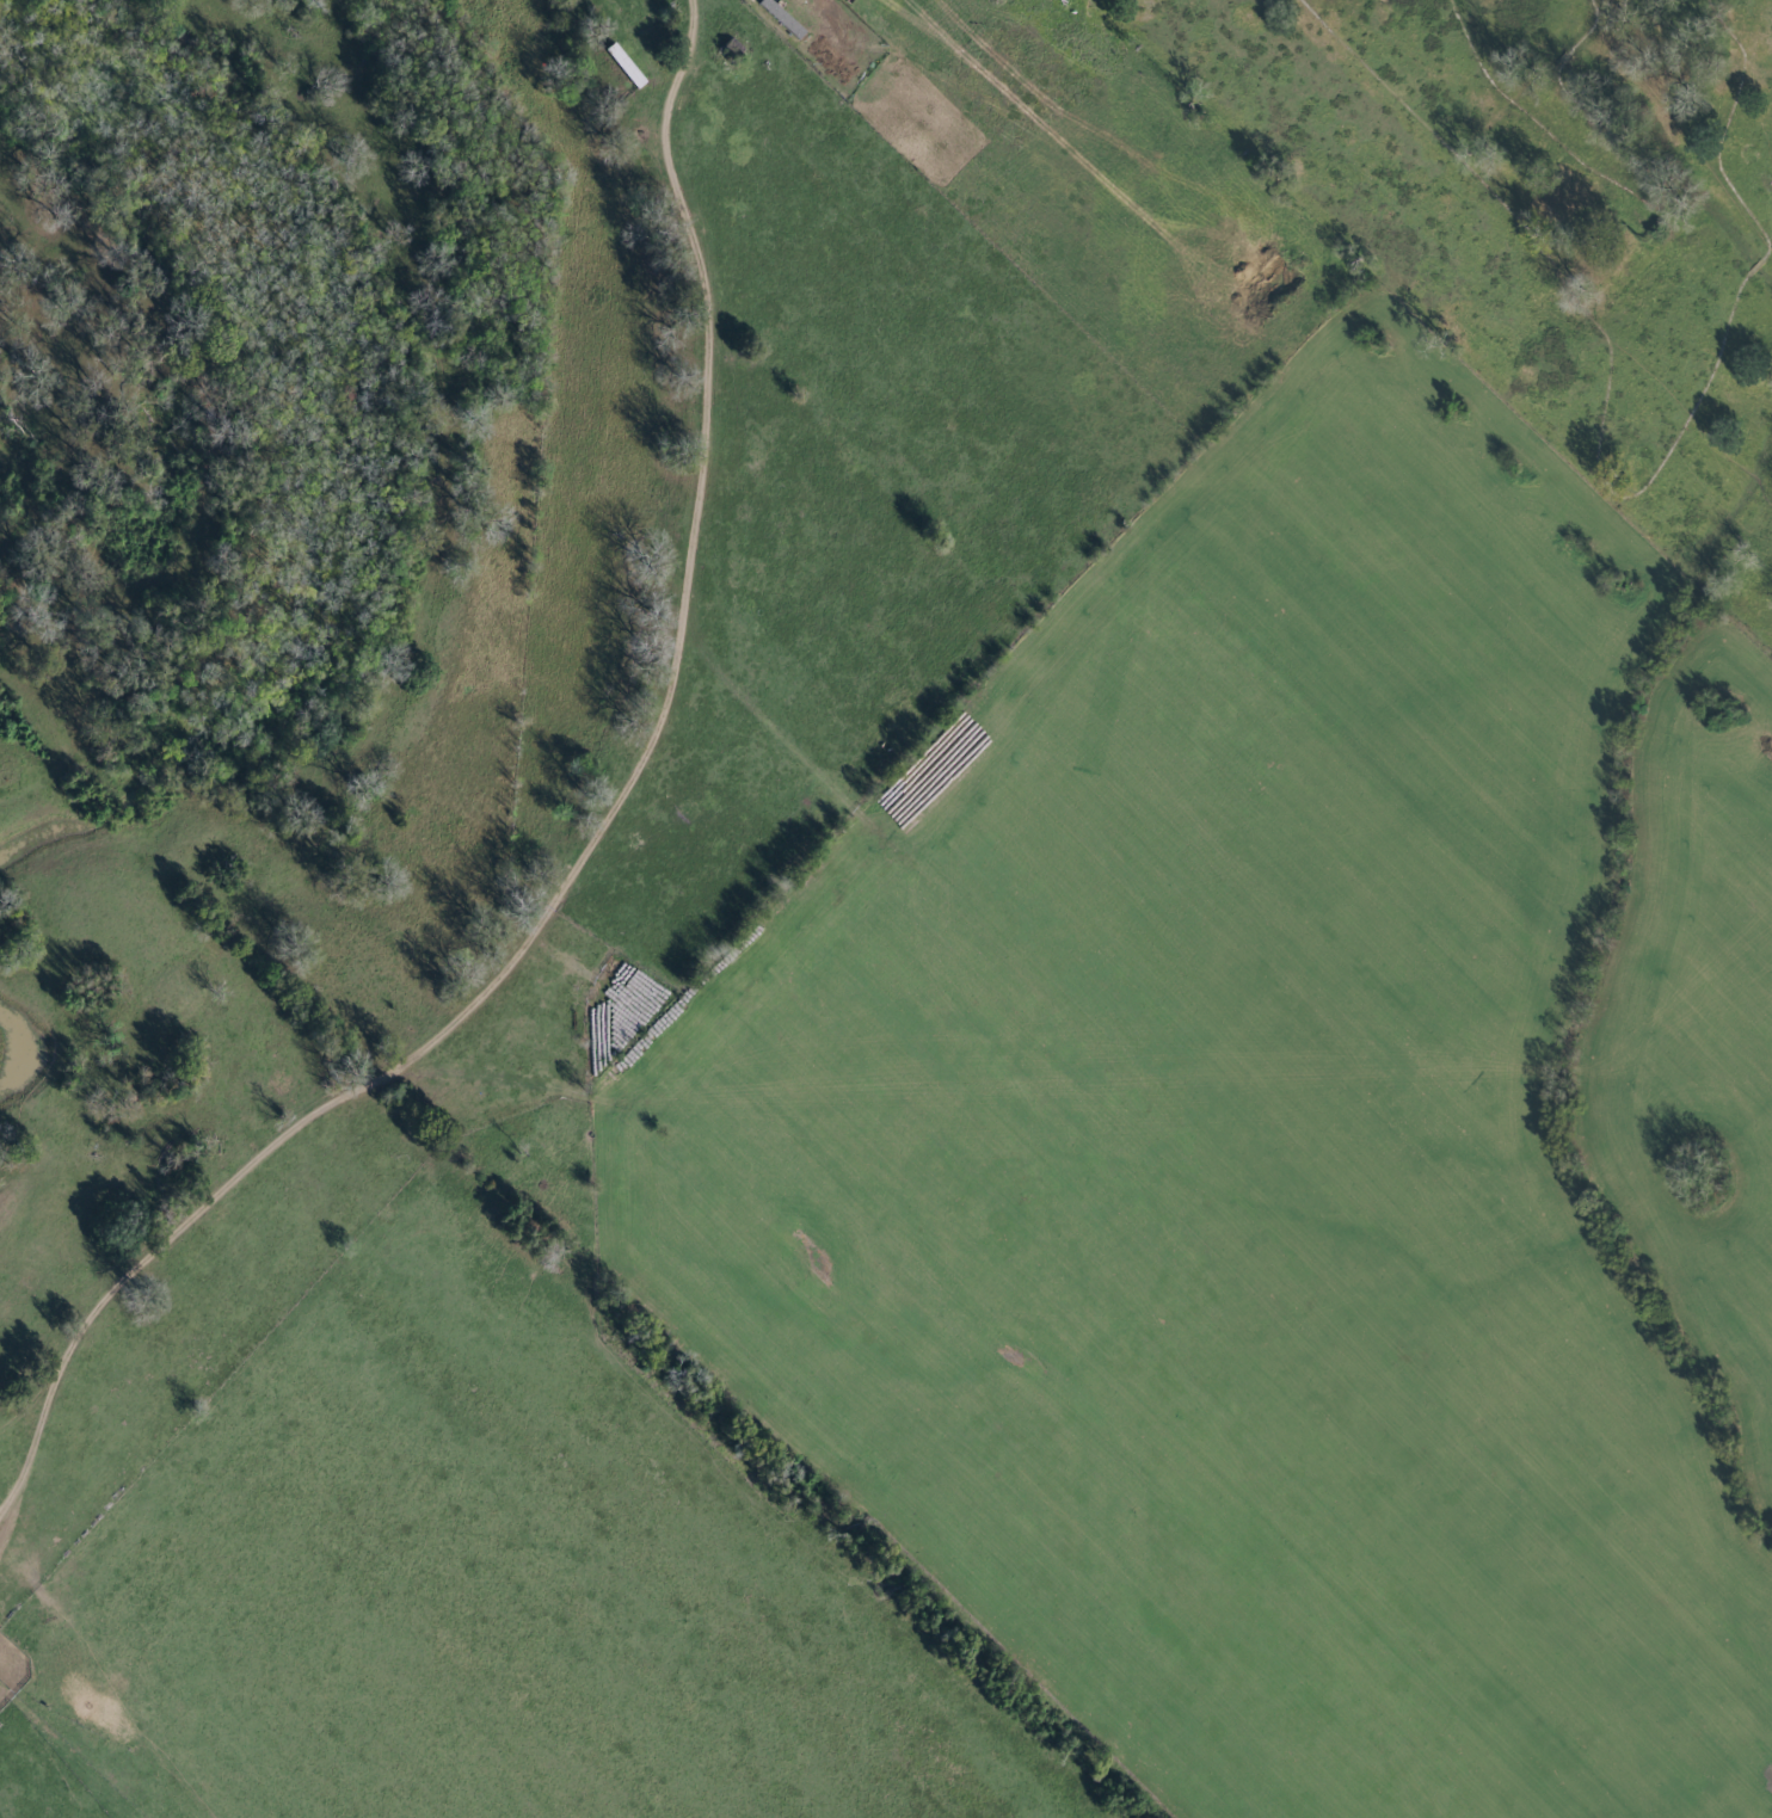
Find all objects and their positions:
building: (777, 18)
park: (1540, 210)
road: (577, 850)

